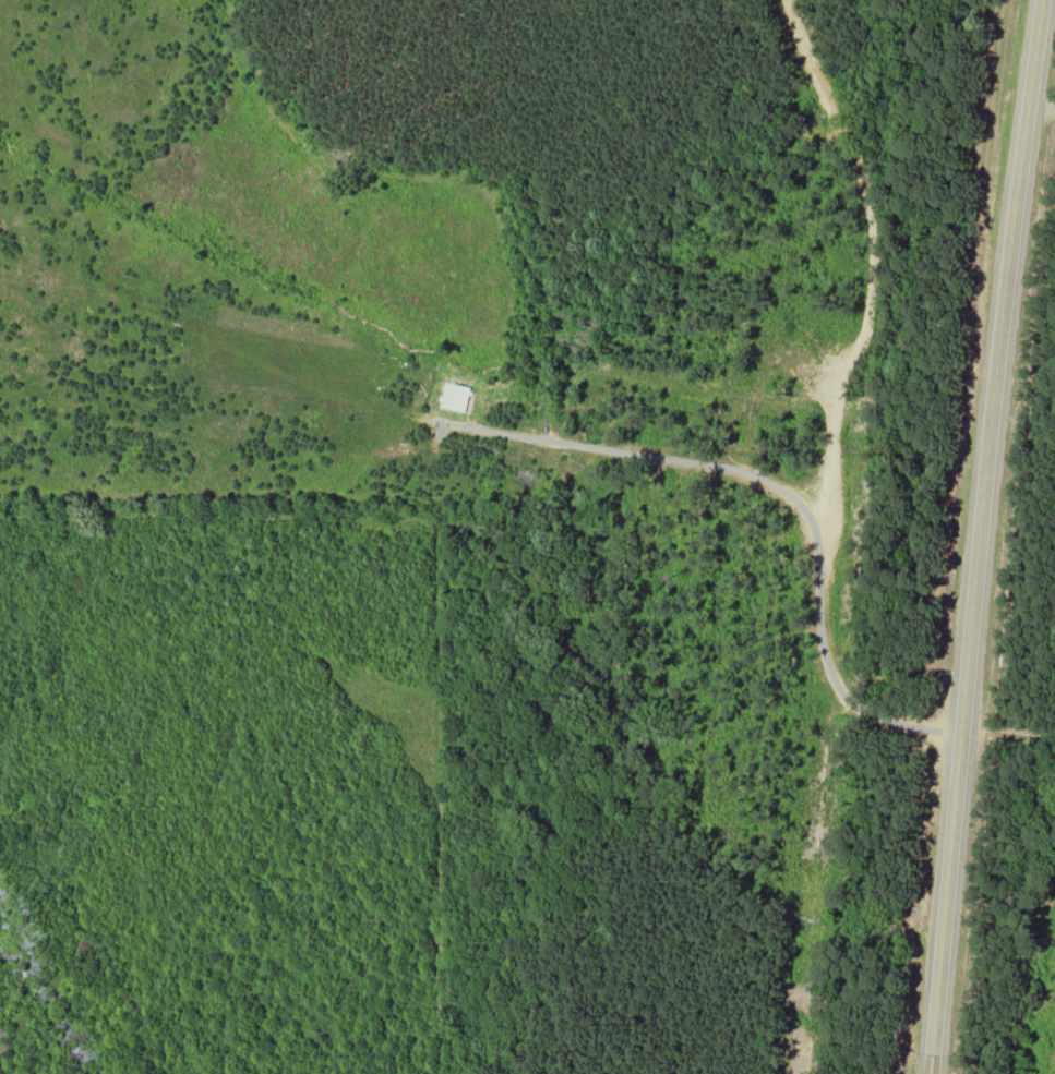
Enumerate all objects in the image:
road: (1033, 215)
road: (979, 526)
road: (927, 1064)
road: (928, 1064)

